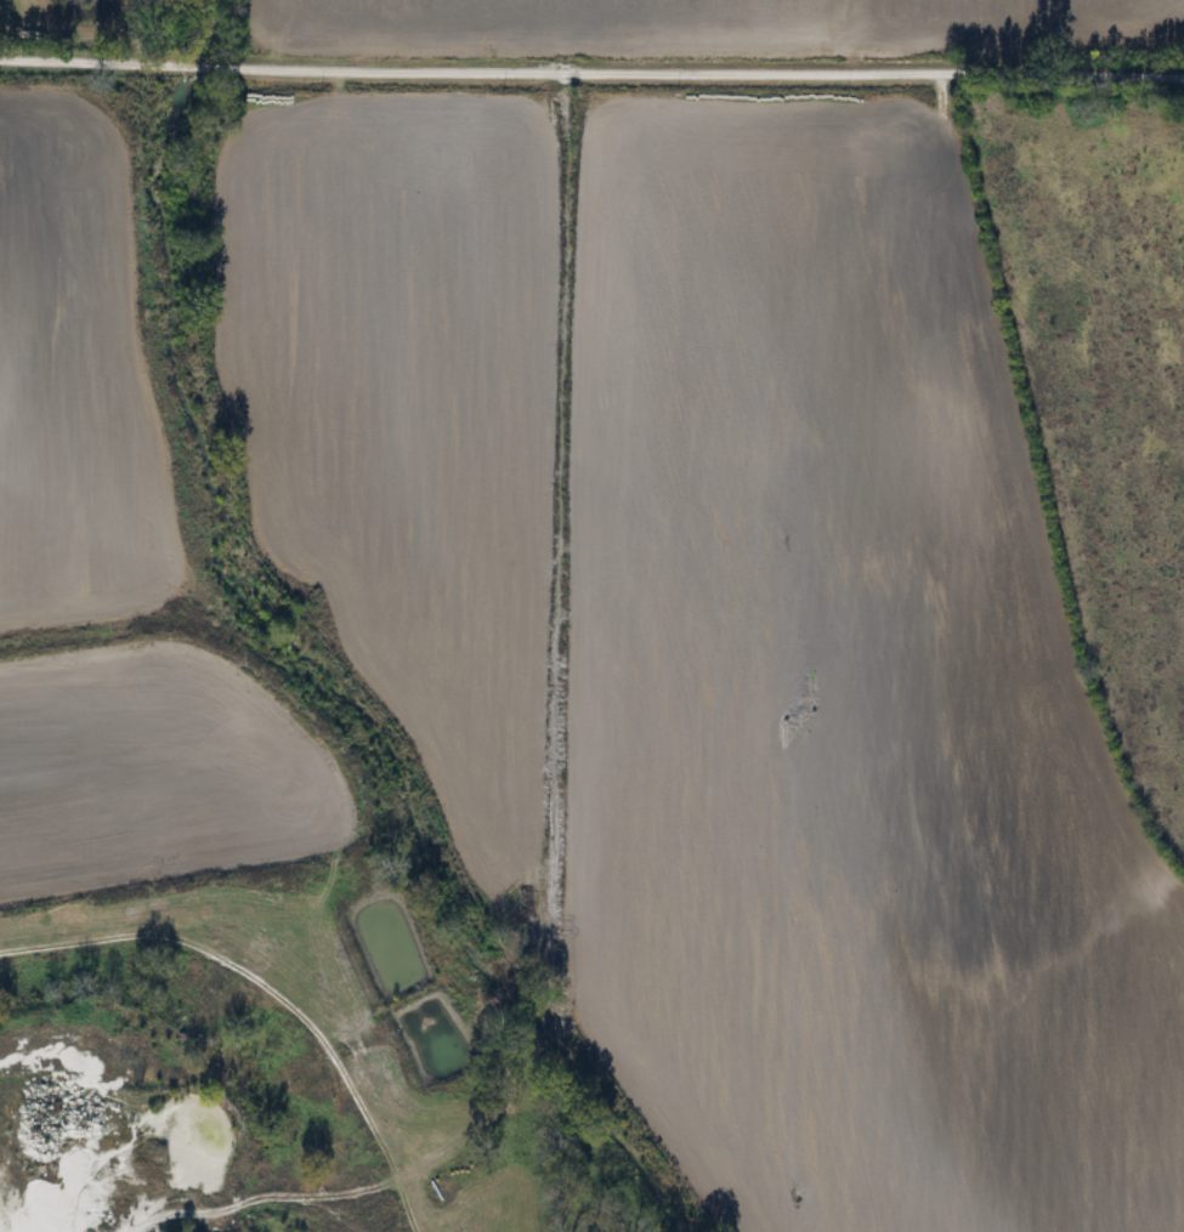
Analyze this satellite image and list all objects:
road: (591, 69)

